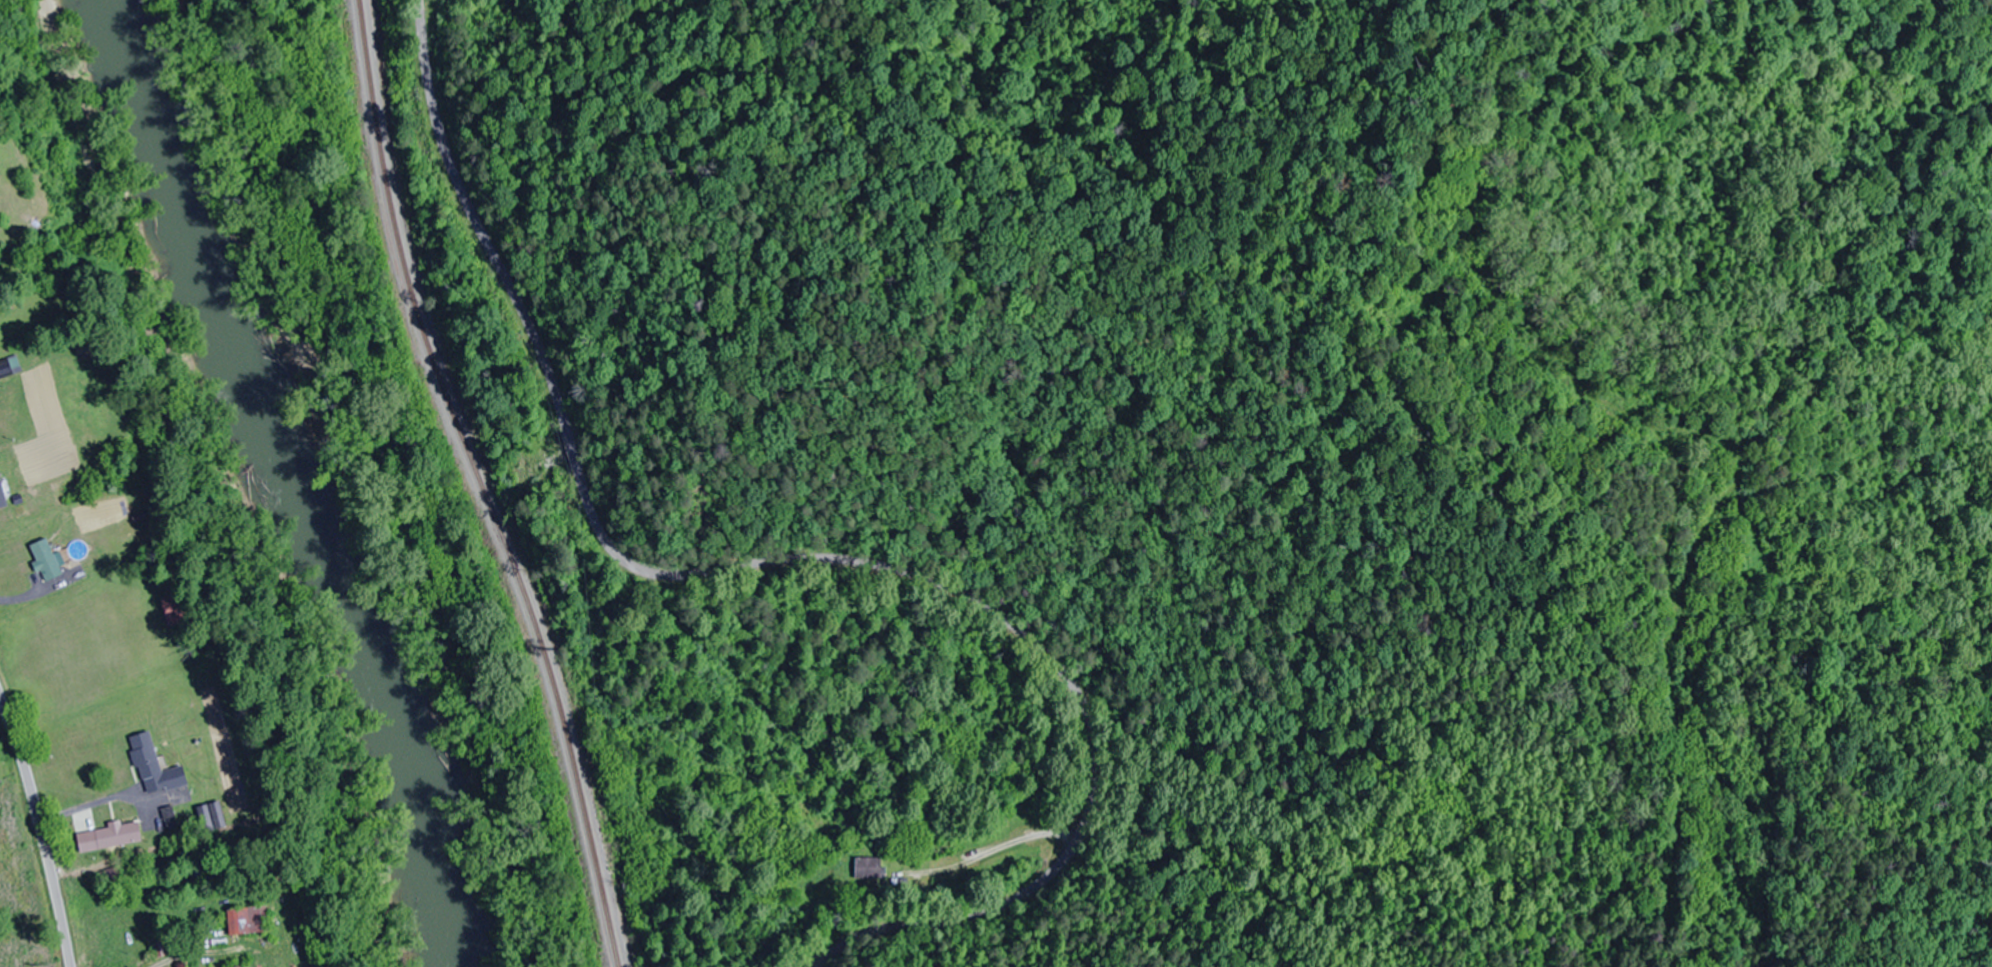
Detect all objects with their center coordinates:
building: (5, 371)
river: (301, 473)
railway: (483, 484)
building: (2, 495)
building: (46, 560)
road: (787, 567)
building: (172, 605)
building: (155, 768)
road: (42, 832)
building: (110, 837)
road: (1805, 847)
building: (869, 869)
building: (248, 920)

